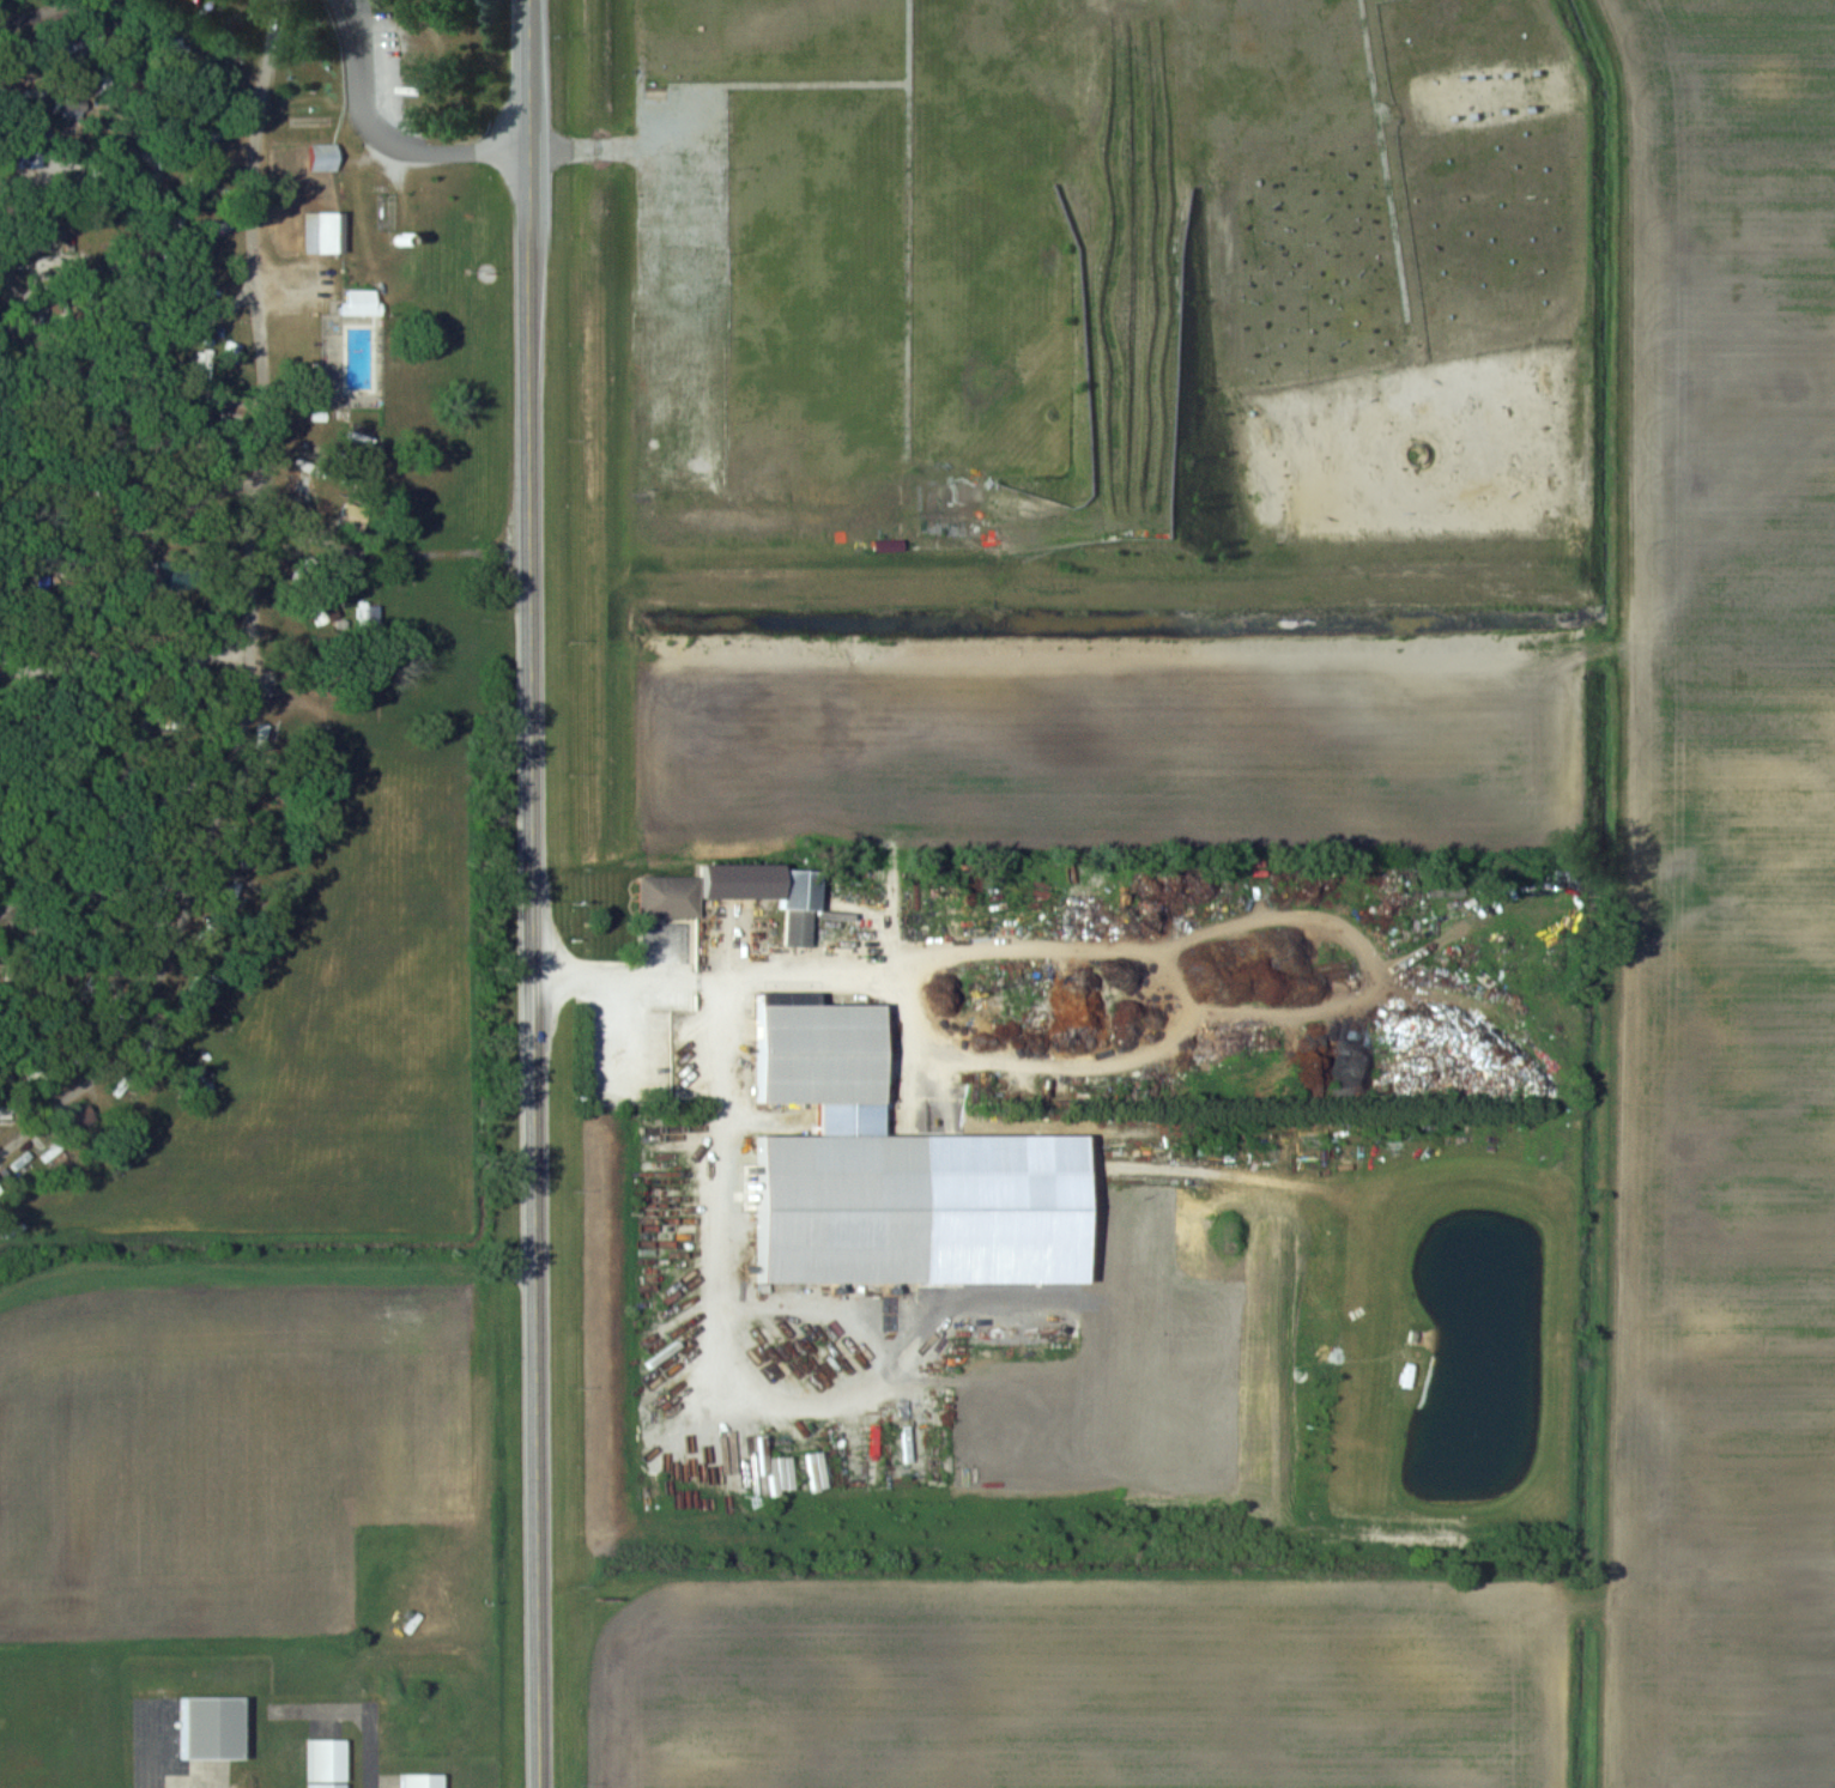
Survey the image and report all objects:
road: (340, 18)
building: (72, 47)
road: (398, 146)
building: (22, 154)
building: (323, 157)
building: (322, 232)
building: (361, 303)
building: (362, 435)
building: (320, 607)
building: (770, 890)
road: (532, 893)
building: (668, 896)
road: (676, 974)
building: (198, 988)
building: (119, 1017)
building: (819, 1049)
building: (4, 1079)
building: (80, 1119)
building: (54, 1158)
building: (0, 1196)
building: (842, 1207)
building: (211, 1727)
building: (327, 1763)
building: (422, 1780)

